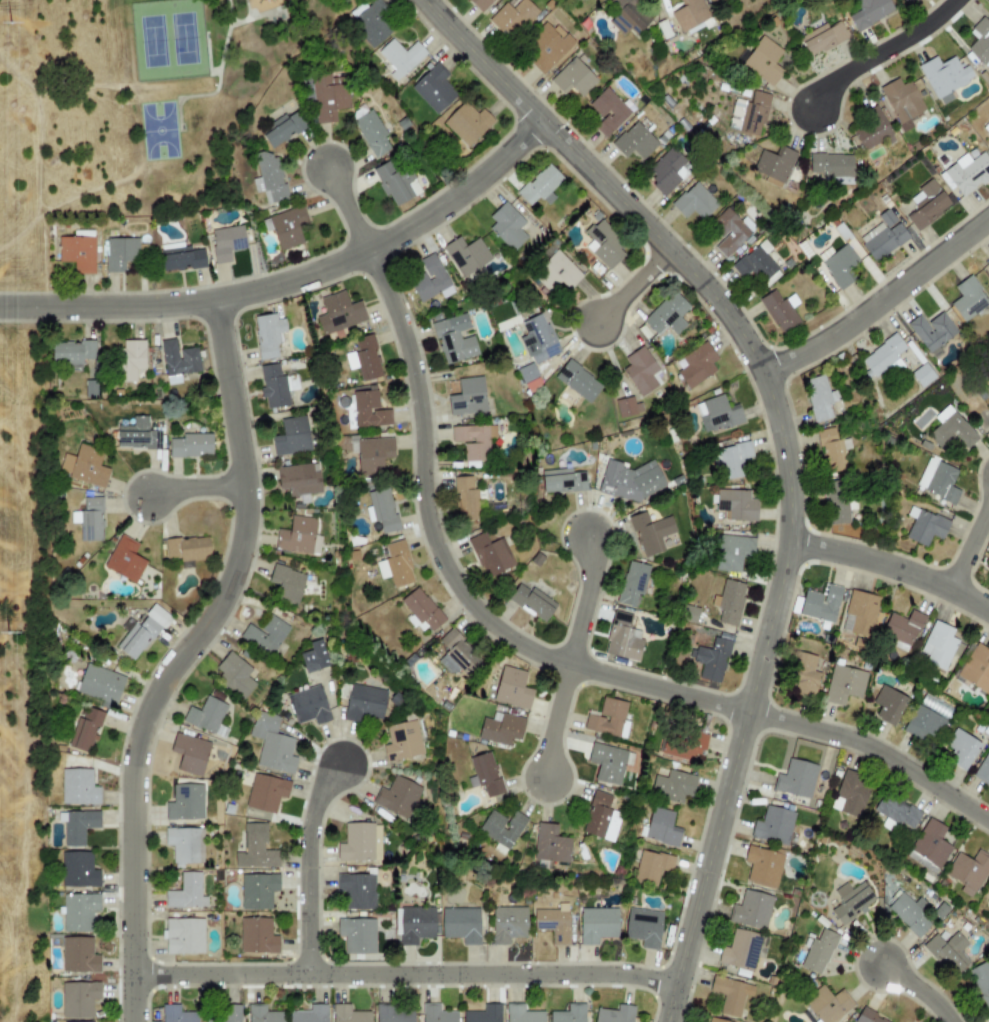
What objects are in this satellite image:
building: (582, 0)
building: (907, 2)
building: (480, 4)
building: (868, 12)
building: (689, 14)
building: (513, 17)
building: (629, 17)
building: (370, 22)
building: (822, 38)
building: (980, 42)
building: (547, 46)
road: (874, 50)
building: (399, 57)
building: (763, 61)
building: (944, 77)
building: (573, 78)
building: (434, 89)
building: (329, 97)
building: (901, 103)
building: (607, 111)
building: (753, 114)
building: (467, 123)
building: (283, 128)
building: (369, 129)
building: (872, 130)
building: (988, 134)
building: (636, 139)
building: (830, 165)
building: (774, 166)
building: (666, 171)
building: (968, 174)
building: (268, 179)
building: (395, 183)
building: (540, 186)
building: (694, 202)
building: (927, 206)
building: (287, 227)
building: (507, 227)
building: (729, 231)
building: (884, 237)
building: (226, 243)
building: (603, 244)
building: (77, 253)
building: (121, 253)
building: (467, 255)
building: (182, 259)
building: (988, 262)
building: (756, 263)
building: (839, 266)
building: (556, 273)
road: (292, 276)
building: (432, 282)
road: (631, 286)
building: (968, 299)
road: (879, 301)
building: (780, 312)
building: (339, 313)
building: (667, 315)
building: (268, 335)
building: (538, 338)
building: (453, 340)
building: (930, 343)
building: (71, 351)
building: (884, 357)
building: (364, 358)
building: (129, 360)
building: (178, 361)
building: (697, 365)
building: (640, 371)
building: (922, 375)
building: (528, 377)
building: (577, 381)
building: (275, 386)
building: (467, 397)
building: (818, 398)
building: (627, 407)
building: (369, 411)
building: (719, 413)
building: (953, 431)
building: (135, 435)
building: (291, 437)
building: (473, 441)
building: (190, 445)
building: (828, 450)
road: (785, 451)
building: (372, 455)
building: (730, 460)
building: (85, 466)
building: (298, 479)
building: (563, 479)
building: (938, 480)
building: (629, 481)
road: (193, 485)
building: (463, 498)
building: (736, 505)
building: (838, 507)
building: (381, 511)
building: (90, 520)
building: (924, 526)
building: (649, 533)
building: (299, 536)
building: (187, 549)
road: (971, 549)
building: (731, 552)
building: (490, 554)
building: (127, 559)
building: (536, 559)
building: (988, 561)
building: (395, 564)
road: (892, 565)
building: (288, 584)
building: (632, 584)
road: (582, 599)
building: (729, 602)
building: (535, 603)
building: (821, 604)
building: (423, 610)
building: (861, 613)
building: (902, 628)
building: (142, 632)
building: (267, 635)
road: (511, 639)
building: (622, 639)
building: (938, 645)
road: (182, 656)
building: (460, 657)
building: (315, 658)
building: (711, 659)
building: (976, 668)
building: (235, 675)
building: (805, 676)
building: (101, 684)
building: (844, 684)
building: (512, 689)
building: (367, 705)
building: (888, 705)
building: (310, 706)
building: (209, 717)
building: (595, 719)
road: (550, 720)
building: (923, 723)
building: (502, 730)
building: (85, 733)
building: (271, 740)
building: (403, 741)
building: (682, 745)
building: (961, 749)
building: (194, 755)
building: (607, 762)
building: (983, 769)
building: (487, 773)
building: (797, 779)
building: (673, 786)
building: (78, 789)
building: (269, 792)
building: (851, 793)
building: (398, 797)
building: (191, 808)
building: (897, 812)
building: (602, 816)
building: (78, 825)
building: (773, 827)
building: (501, 828)
building: (661, 828)
building: (358, 842)
building: (550, 845)
building: (189, 846)
building: (255, 849)
building: (929, 849)
road: (309, 865)
building: (764, 865)
building: (653, 867)
building: (78, 870)
building: (968, 872)
building: (258, 890)
building: (357, 890)
building: (187, 892)
building: (851, 902)
building: (752, 910)
building: (941, 910)
building: (80, 913)
building: (909, 914)
building: (556, 924)
building: (415, 925)
building: (462, 925)
building: (597, 925)
building: (509, 926)
building: (644, 927)
building: (185, 935)
building: (257, 935)
building: (357, 935)
building: (740, 950)
building: (819, 954)
building: (948, 954)
building: (78, 956)
road: (408, 971)
building: (981, 981)
road: (917, 990)
building: (731, 995)
building: (79, 998)
building: (828, 1003)
building: (570, 1013)
building: (176, 1014)
building: (231, 1014)
building: (310, 1014)
building: (351, 1014)
building: (391, 1014)
building: (437, 1014)
building: (485, 1014)
building: (523, 1014)
building: (616, 1014)
building: (263, 1015)
building: (867, 1017)
building: (987, 1019)
building: (714, 1020)

